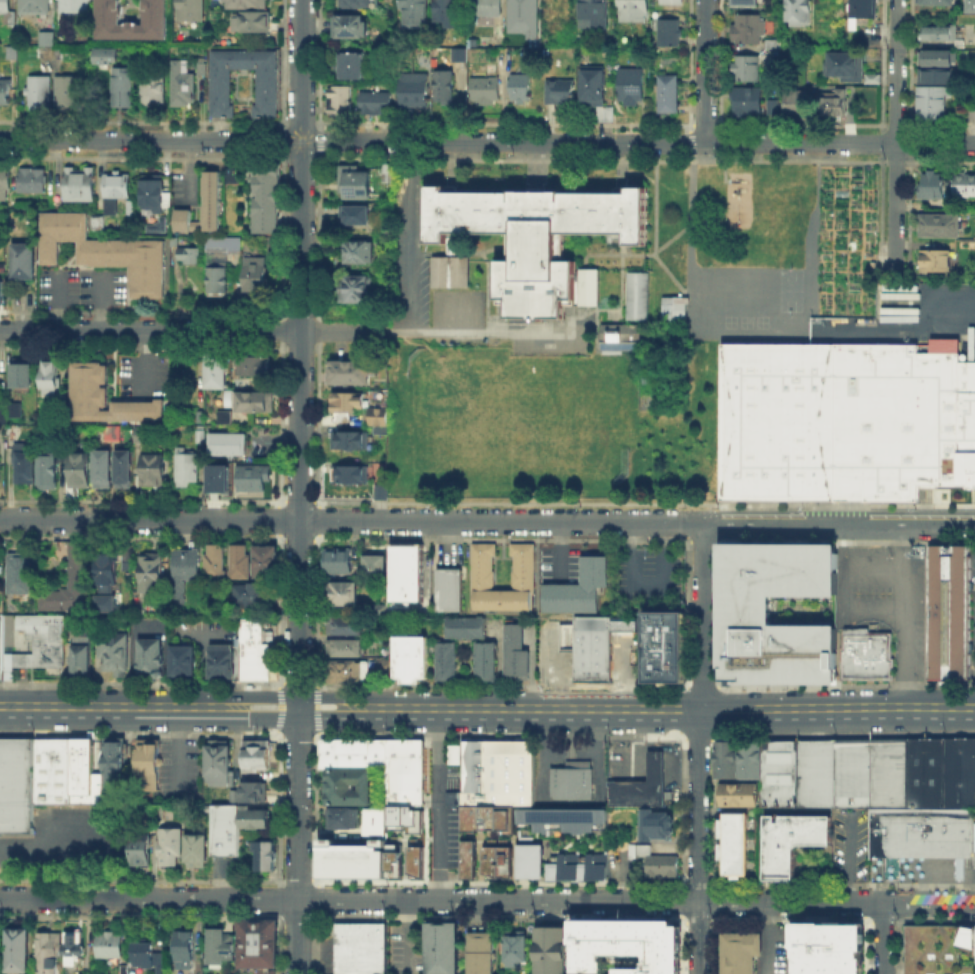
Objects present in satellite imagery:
building: (670, 2)
building: (937, 2)
building: (358, 3)
building: (741, 3)
building: (248, 4)
building: (74, 6)
building: (5, 7)
building: (35, 7)
building: (488, 7)
building: (969, 7)
building: (559, 9)
building: (864, 9)
building: (631, 10)
building: (109, 11)
building: (191, 11)
building: (796, 12)
building: (451, 13)
building: (416, 14)
building: (596, 14)
building: (525, 17)
building: (253, 21)
building: (352, 25)
building: (744, 28)
building: (502, 33)
building: (669, 33)
building: (939, 33)
building: (47, 39)
building: (778, 44)
building: (12, 53)
building: (53, 54)
building: (107, 55)
building: (461, 55)
building: (354, 64)
building: (844, 66)
building: (744, 68)
building: (203, 70)
road: (705, 72)
building: (633, 85)
building: (596, 86)
building: (221, 87)
building: (522, 87)
building: (155, 88)
building: (446, 88)
building: (935, 88)
building: (125, 89)
building: (184, 89)
building: (5, 91)
building: (416, 91)
building: (487, 91)
building: (561, 91)
building: (39, 92)
building: (67, 93)
building: (666, 93)
building: (745, 101)
building: (377, 103)
building: (831, 103)
building: (341, 104)
building: (793, 105)
building: (771, 107)
building: (970, 113)
road: (895, 136)
road: (487, 142)
building: (230, 174)
building: (357, 181)
building: (33, 182)
building: (5, 186)
building: (82, 186)
building: (925, 186)
building: (961, 187)
building: (117, 192)
building: (149, 195)
building: (209, 199)
building: (264, 199)
park: (752, 213)
building: (357, 216)
building: (184, 219)
building: (99, 224)
building: (935, 227)
building: (162, 228)
building: (528, 235)
road: (412, 237)
building: (452, 244)
building: (224, 247)
building: (106, 253)
building: (358, 253)
building: (190, 256)
building: (24, 263)
building: (931, 263)
building: (865, 266)
building: (452, 274)
building: (256, 275)
building: (219, 279)
parking lot: (426, 279)
building: (589, 287)
parking lot: (83, 288)
building: (355, 289)
building: (0, 291)
building: (792, 292)
building: (639, 297)
building: (672, 306)
road: (946, 320)
road: (150, 330)
road: (341, 331)
road: (479, 332)
building: (617, 336)
road: (698, 336)
road: (300, 355)
building: (254, 365)
building: (218, 372)
building: (350, 374)
building: (22, 375)
building: (51, 376)
parking lot: (141, 376)
building: (107, 399)
building: (252, 400)
building: (348, 402)
building: (11, 415)
building: (222, 416)
building: (382, 421)
park: (554, 421)
building: (843, 421)
building: (143, 437)
building: (202, 437)
building: (352, 443)
building: (229, 446)
building: (0, 462)
building: (26, 465)
building: (188, 468)
building: (52, 471)
building: (81, 471)
building: (105, 471)
building: (126, 472)
building: (155, 472)
building: (216, 477)
building: (252, 479)
building: (349, 482)
road: (351, 521)
road: (839, 523)
road: (555, 550)
building: (241, 562)
building: (265, 562)
building: (217, 563)
building: (339, 563)
parking lot: (560, 565)
building: (523, 566)
building: (376, 567)
building: (186, 571)
building: (22, 573)
building: (154, 574)
building: (108, 575)
building: (408, 575)
parking lot: (651, 578)
building: (73, 583)
building: (581, 588)
road: (847, 589)
building: (450, 591)
building: (342, 592)
parking lot: (884, 594)
building: (252, 598)
building: (104, 602)
building: (745, 609)
building: (946, 610)
parking lot: (972, 610)
road: (909, 616)
road: (702, 617)
building: (628, 624)
building: (349, 627)
building: (39, 646)
building: (349, 648)
building: (667, 648)
building: (595, 650)
building: (518, 652)
building: (115, 654)
building: (254, 654)
parking lot: (627, 654)
building: (865, 654)
building: (152, 660)
building: (411, 660)
building: (84, 661)
building: (562, 662)
building: (185, 663)
building: (221, 663)
building: (448, 663)
building: (351, 672)
road: (148, 710)
road: (326, 711)
road: (665, 711)
road: (178, 746)
building: (255, 753)
building: (351, 753)
building: (724, 758)
building: (748, 758)
building: (112, 761)
building: (218, 761)
building: (147, 763)
building: (403, 771)
building: (778, 771)
building: (815, 771)
building: (869, 771)
building: (940, 771)
building: (498, 774)
building: (40, 777)
building: (572, 783)
building: (639, 783)
building: (347, 786)
building: (252, 790)
building: (738, 793)
road: (298, 805)
road: (433, 806)
building: (253, 816)
building: (376, 816)
building: (344, 817)
building: (404, 817)
building: (564, 818)
building: (489, 819)
building: (653, 823)
building: (224, 828)
building: (919, 830)
road: (336, 833)
building: (788, 840)
parking lot: (448, 841)
road: (697, 842)
building: (732, 842)
building: (170, 845)
road: (56, 848)
building: (139, 848)
building: (195, 849)
building: (264, 854)
building: (393, 856)
building: (414, 857)
building: (351, 858)
building: (467, 858)
building: (528, 859)
building: (655, 859)
building: (496, 860)
building: (578, 864)
road: (440, 901)
road: (928, 903)
road: (406, 936)
road: (297, 937)
road: (766, 938)
road: (882, 938)
building: (108, 943)
building: (218, 944)
building: (257, 944)
building: (625, 945)
building: (73, 947)
building: (824, 947)
parking lot: (325, 948)
building: (358, 948)
parking lot: (406, 948)
building: (442, 948)
building: (514, 948)
parking lot: (779, 948)
building: (939, 948)
building: (17, 949)
building: (183, 949)
building: (549, 949)
building: (738, 951)
building: (479, 952)
building: (142, 953)
building: (50, 955)
building: (82, 973)

